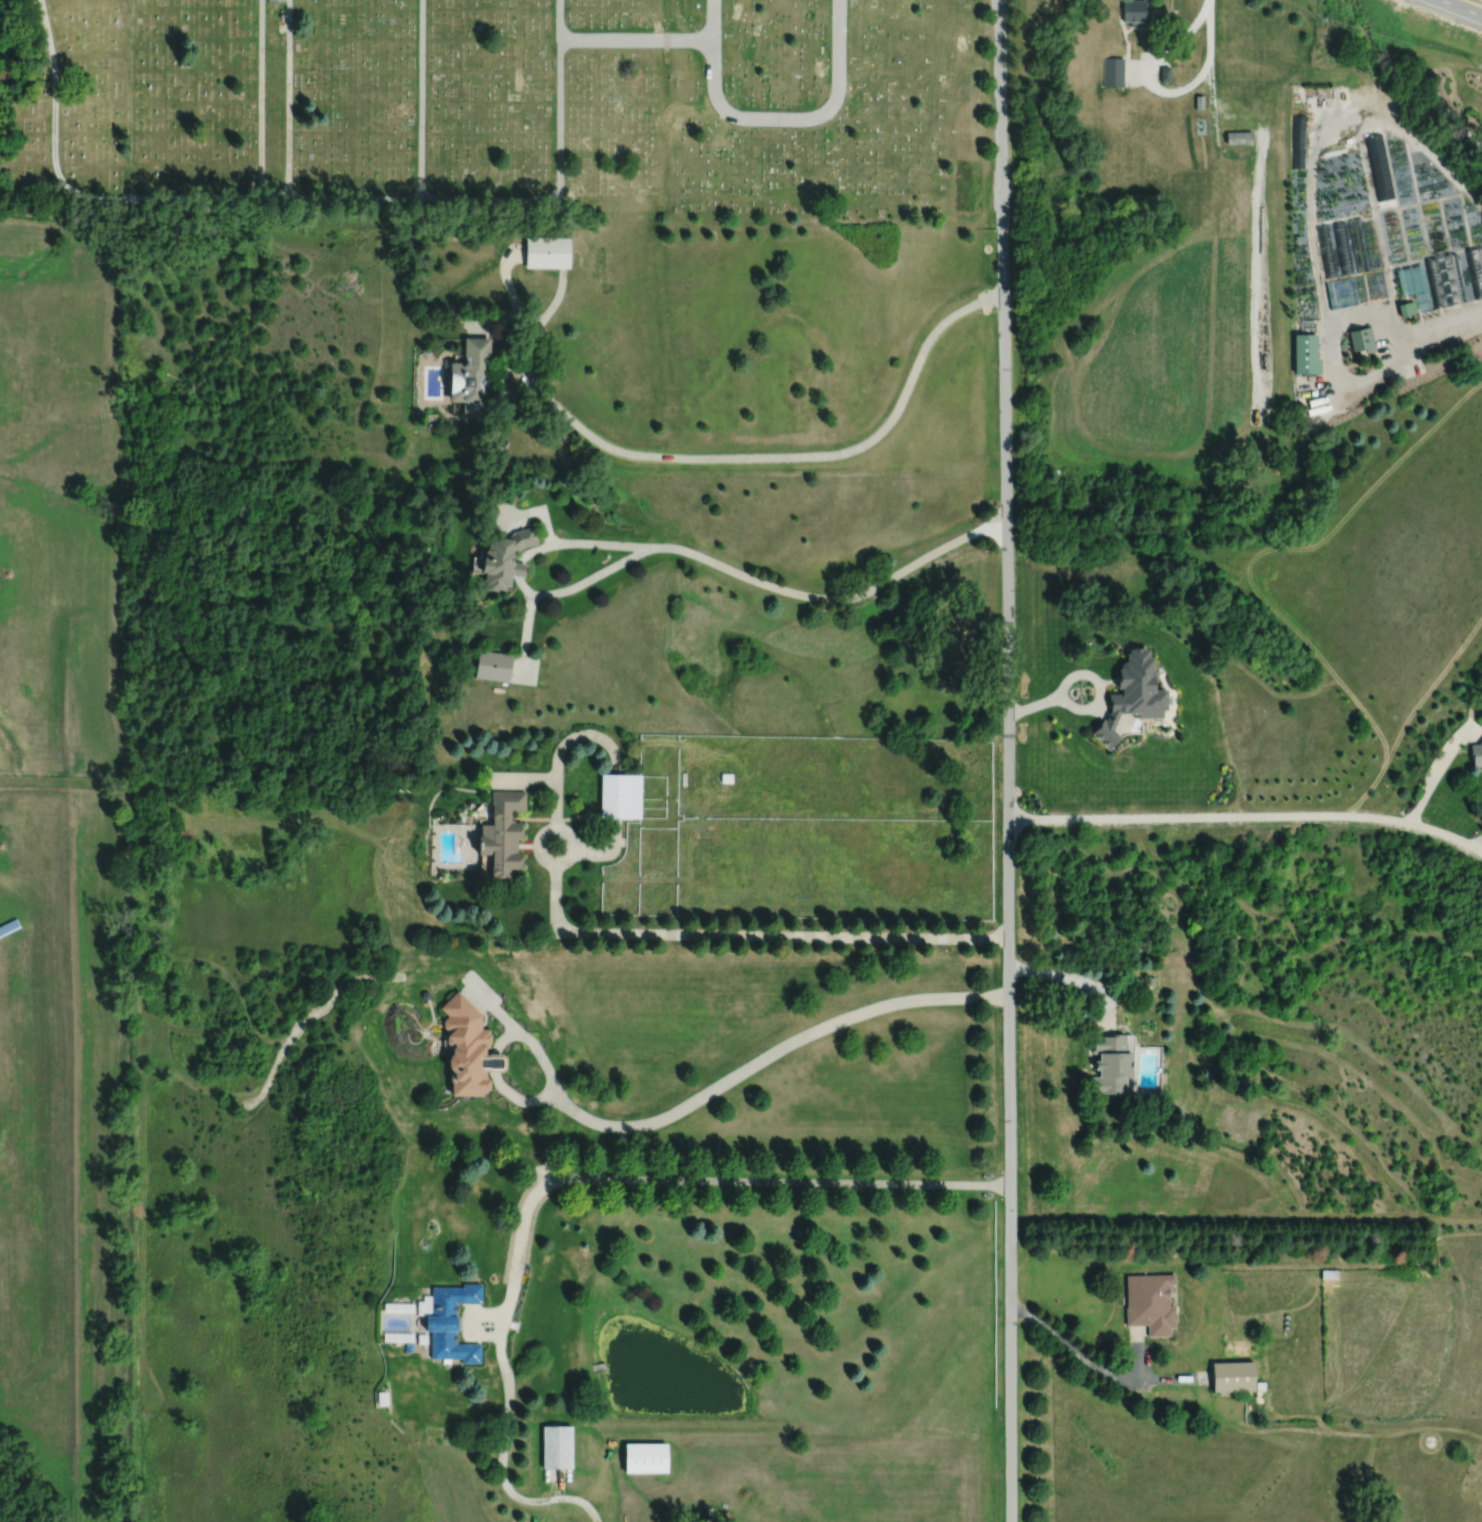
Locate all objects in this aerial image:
building: (275, 0)
road: (1459, 8)
building: (1133, 11)
road: (712, 19)
road: (635, 40)
building: (1113, 71)
building: (1165, 73)
road: (1162, 91)
road: (260, 98)
road: (288, 98)
road: (421, 98)
building: (1199, 101)
park: (503, 104)
road: (795, 119)
building: (1239, 137)
building: (1378, 166)
road: (313, 196)
road: (1311, 235)
building: (545, 252)
road: (505, 279)
road: (554, 302)
building: (1406, 307)
road: (535, 334)
building: (1305, 353)
building: (472, 378)
road: (785, 456)
road: (579, 542)
road: (519, 572)
road: (759, 579)
building: (1132, 694)
road: (1036, 702)
road: (1090, 703)
building: (1476, 753)
road: (1010, 760)
road: (1435, 767)
road: (1251, 818)
road: (1478, 848)
building: (9, 926)
road: (698, 933)
road: (1073, 979)
building: (1111, 1062)
road: (493, 1063)
road: (727, 1079)
road: (518, 1098)
road: (564, 1178)
building: (1149, 1302)
building: (453, 1341)
road: (1074, 1350)
building: (1232, 1375)
building: (556, 1446)
building: (645, 1456)

